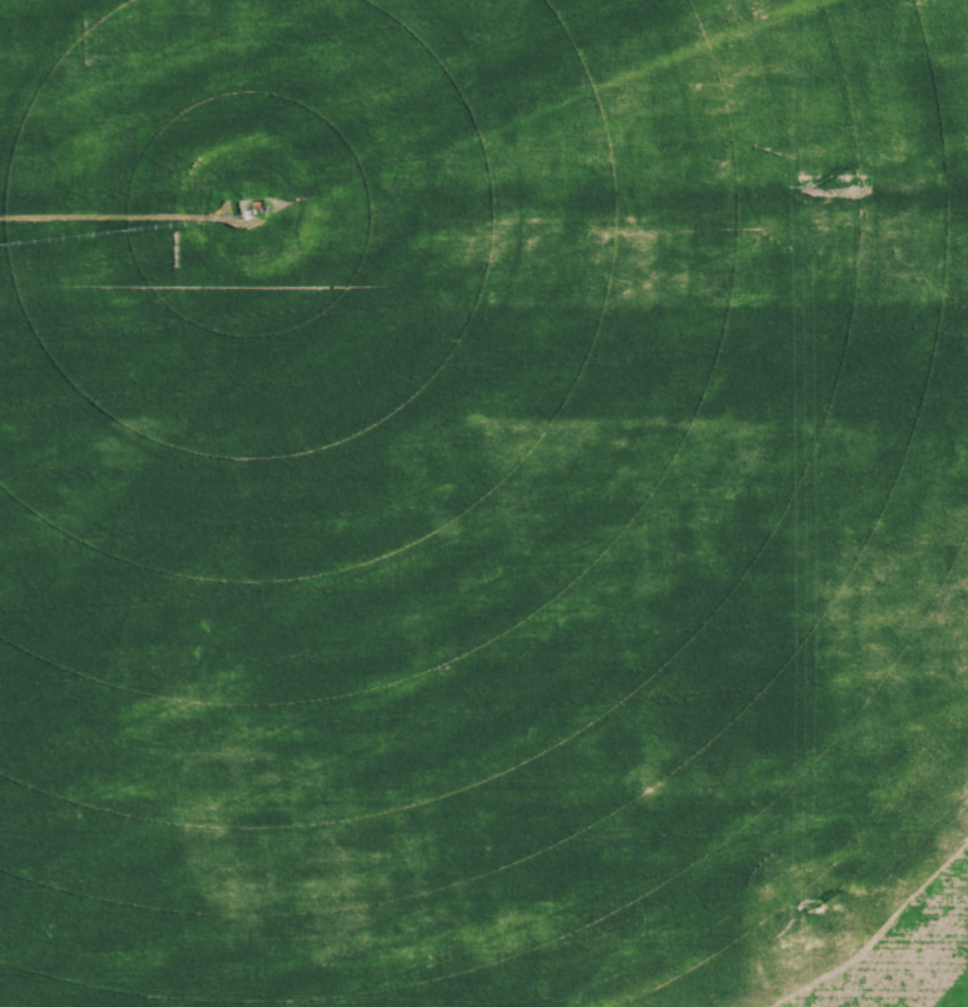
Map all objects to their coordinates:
power tower: (814, 190)
power tower: (810, 908)

